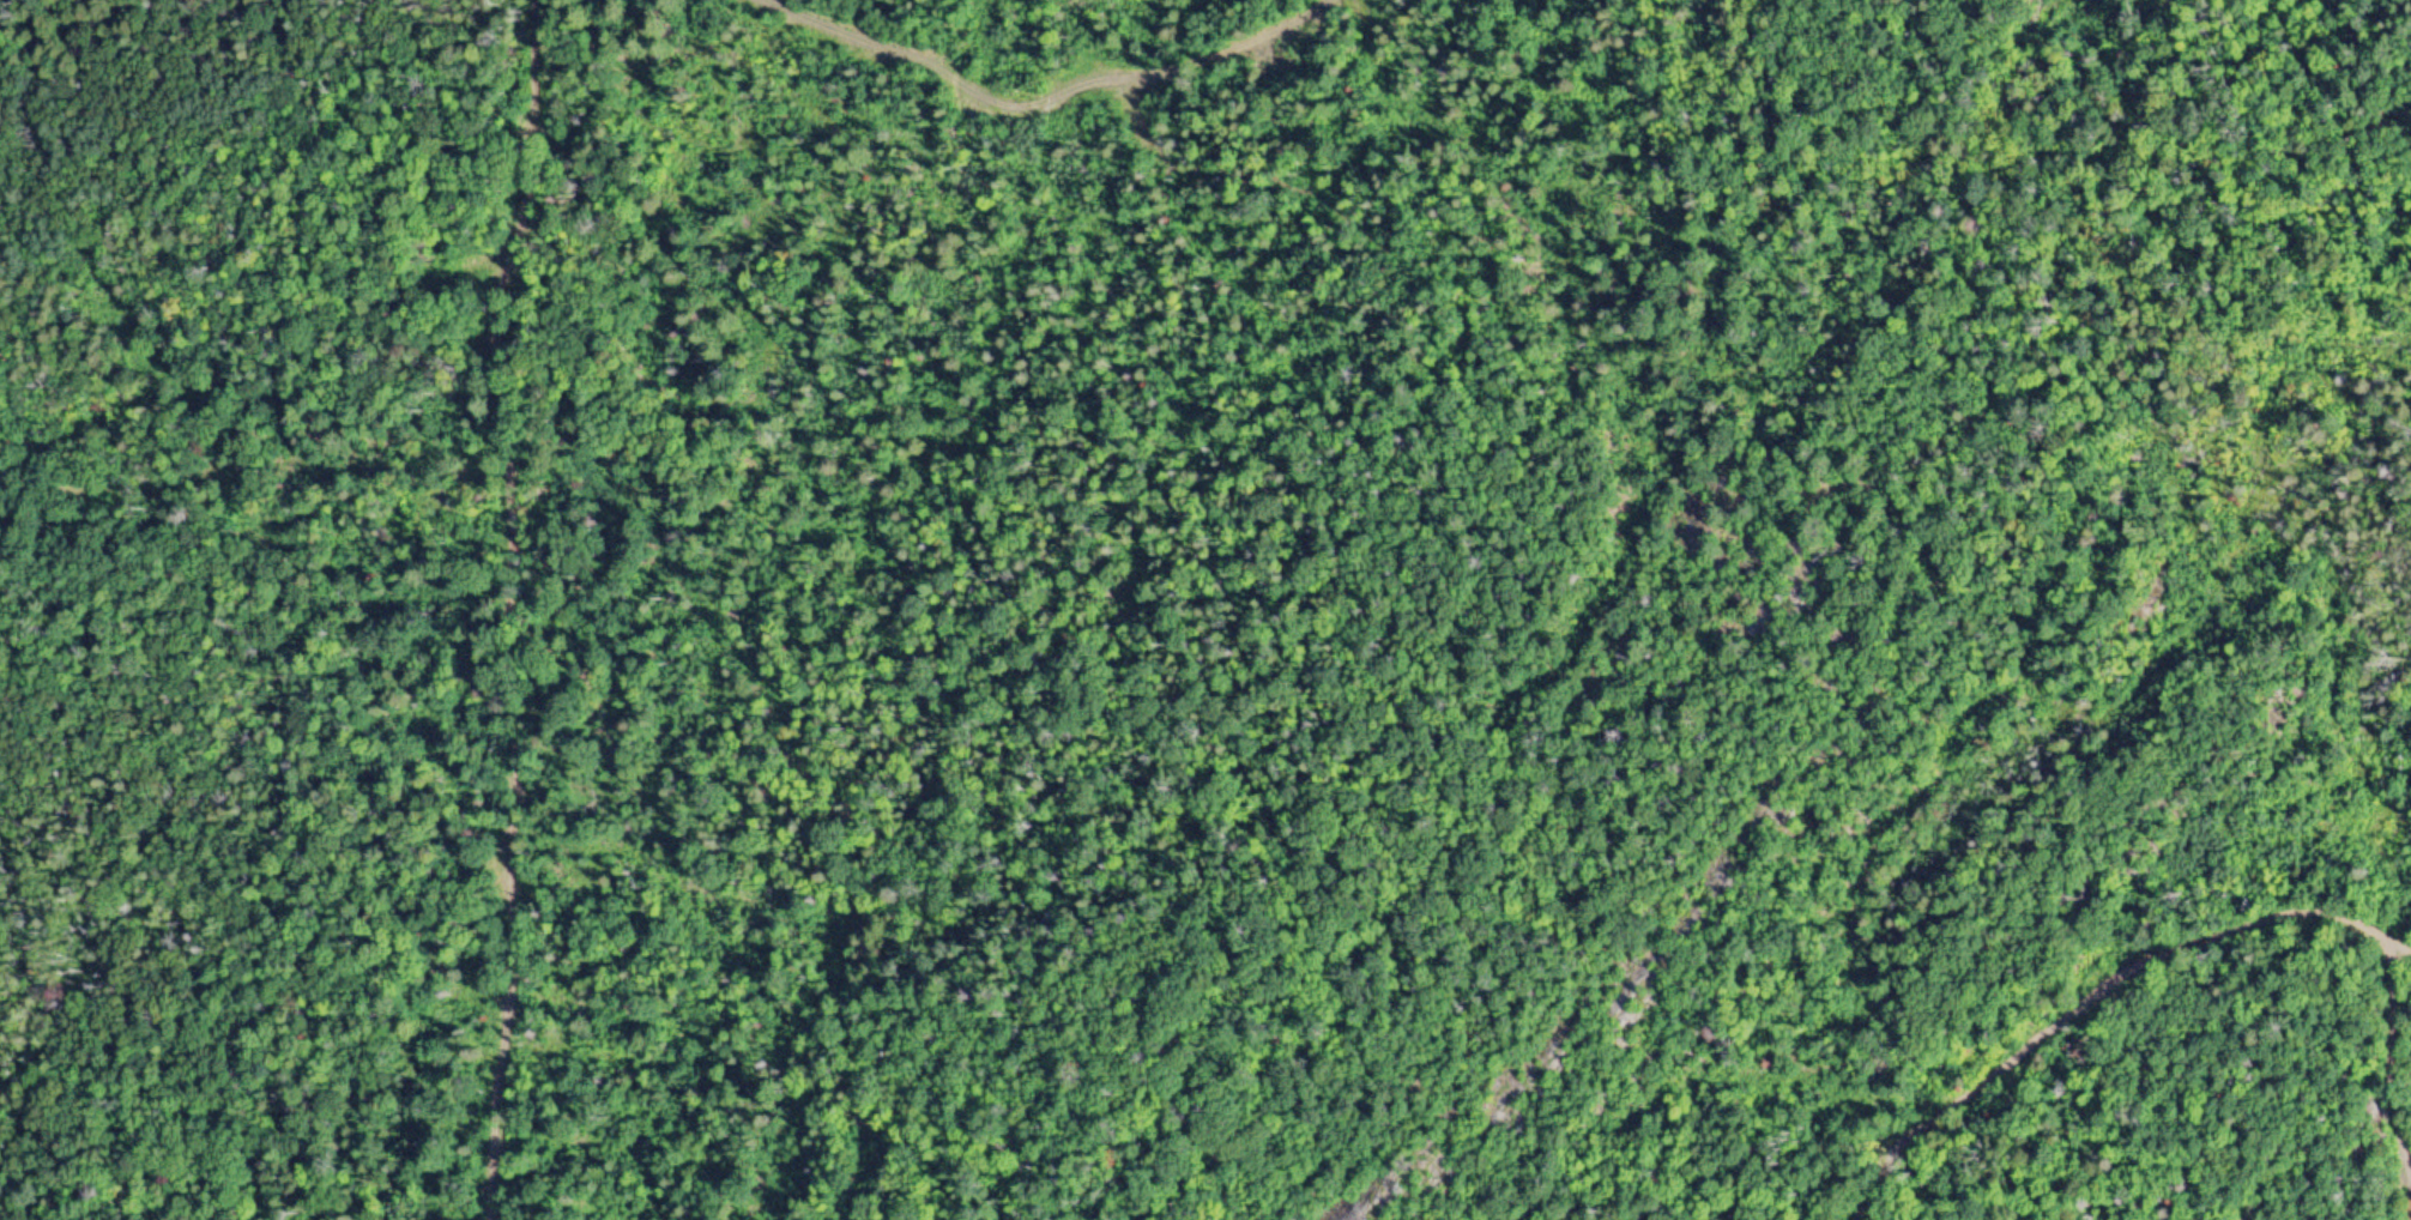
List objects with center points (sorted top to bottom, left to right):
road: (2092, 992)

